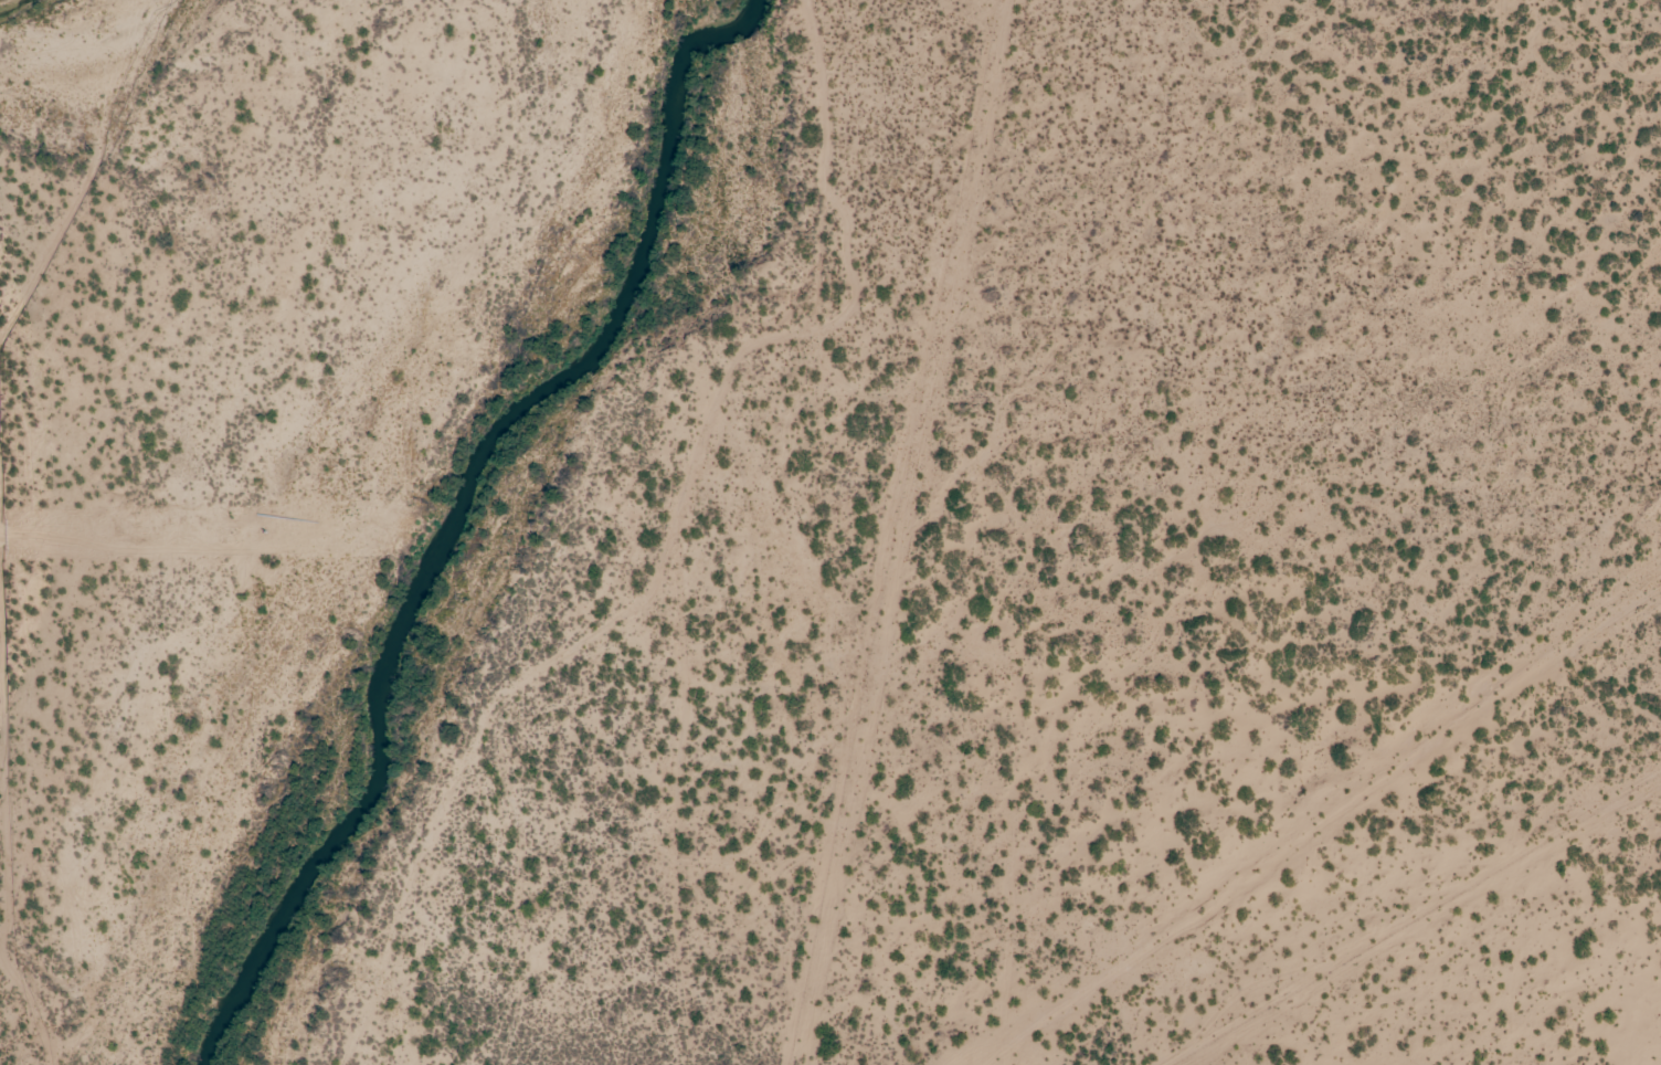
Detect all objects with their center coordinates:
river: (475, 506)
power tower: (1308, 520)
power tower: (1031, 524)
power tower: (1599, 525)
power tower: (652, 527)
power tower: (266, 534)

